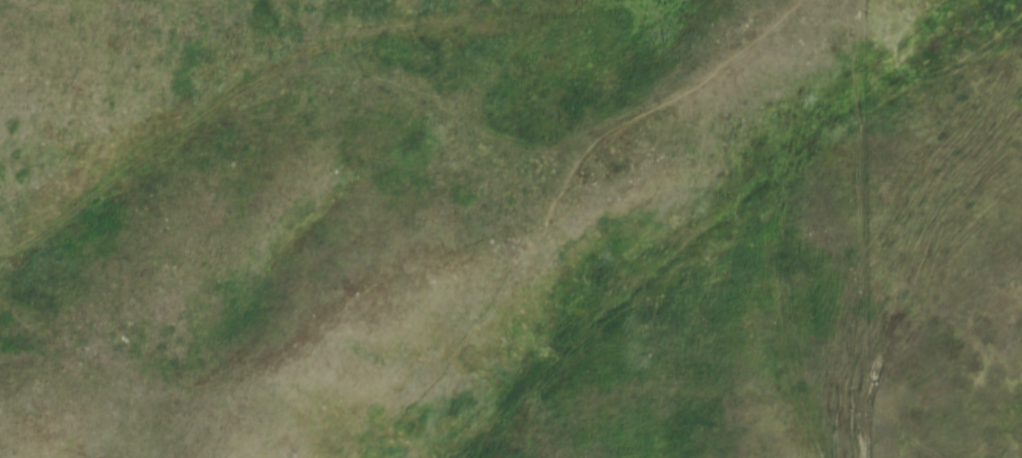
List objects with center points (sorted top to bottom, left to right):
road: (404, 88)

